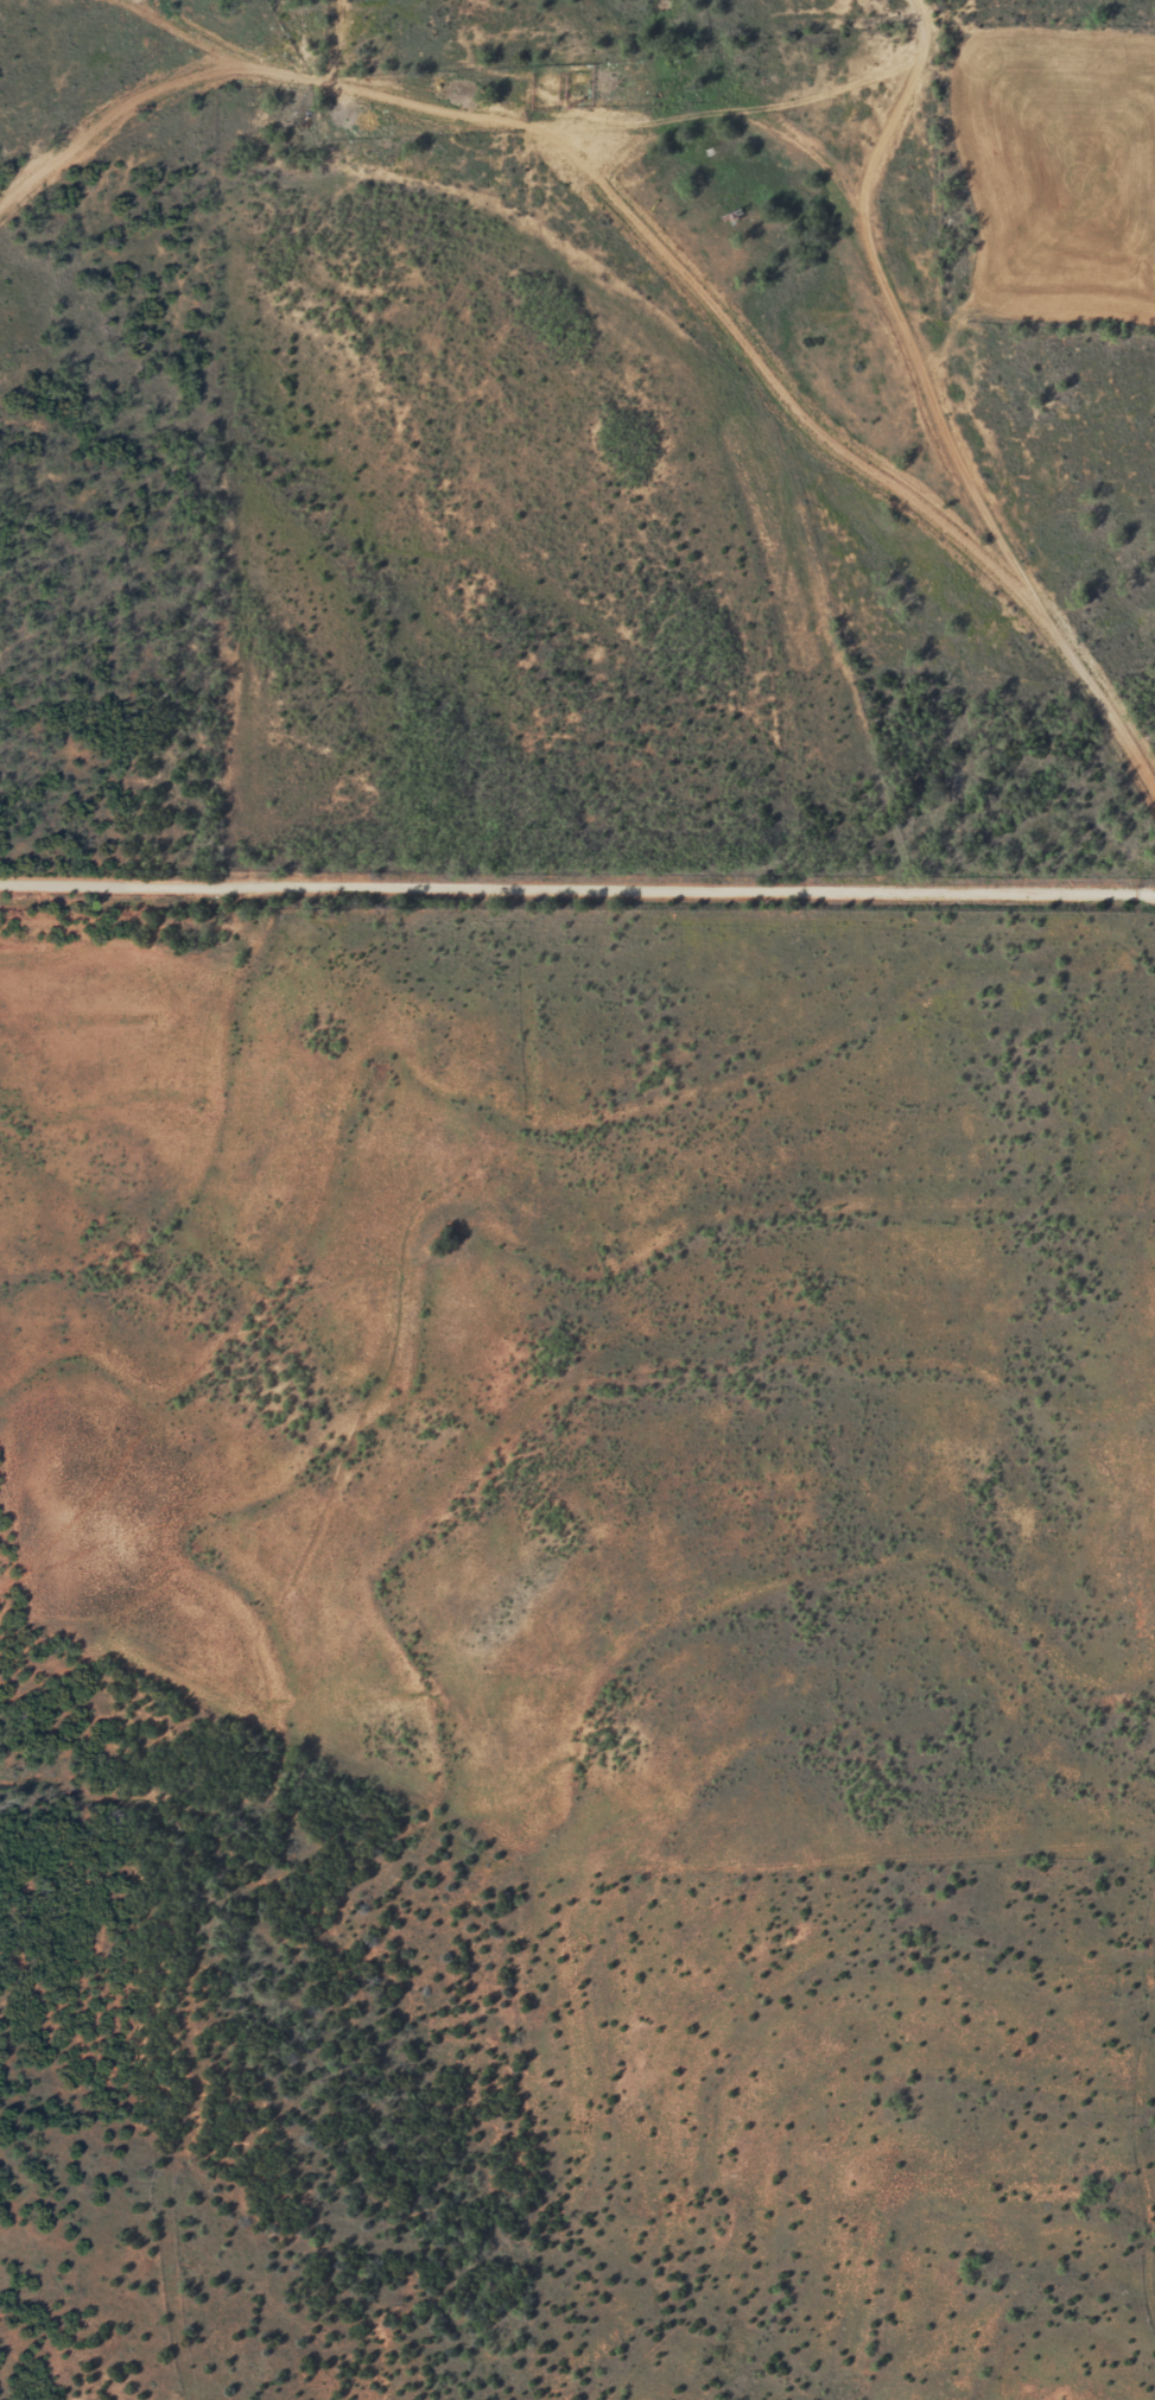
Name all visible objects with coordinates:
road: (471, 82)
road: (616, 241)
road: (952, 442)
road: (697, 895)

